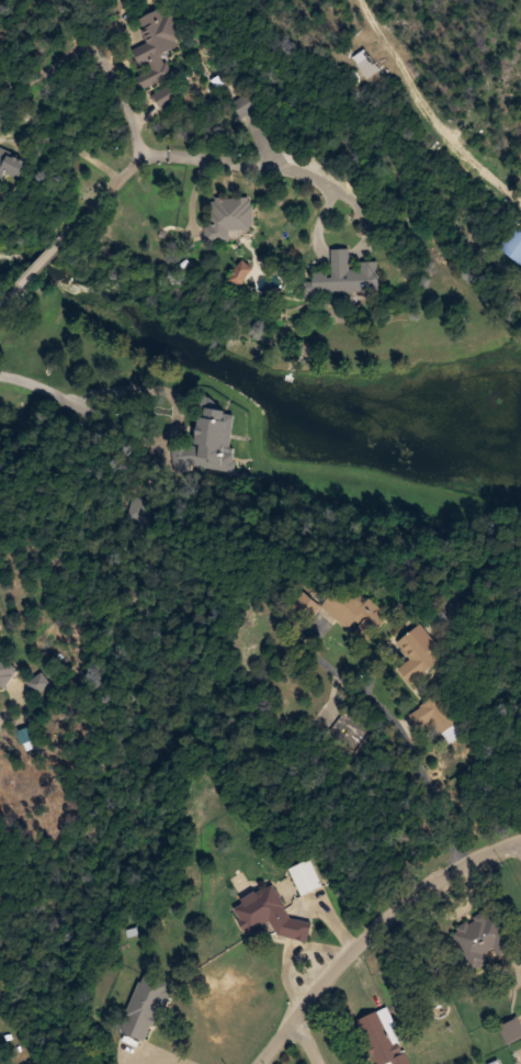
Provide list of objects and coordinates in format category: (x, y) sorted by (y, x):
building: (156, 44)
building: (166, 96)
building: (241, 105)
building: (11, 164)
building: (227, 216)
building: (512, 246)
building: (343, 277)
road: (25, 383)
road: (57, 400)
building: (208, 443)
building: (348, 607)
building: (417, 653)
building: (7, 669)
building: (39, 683)
road: (7, 699)
building: (433, 715)
building: (26, 735)
road: (472, 798)
building: (304, 877)
building: (268, 916)
road: (366, 923)
building: (483, 937)
building: (145, 1006)
building: (383, 1038)
road: (315, 1043)

